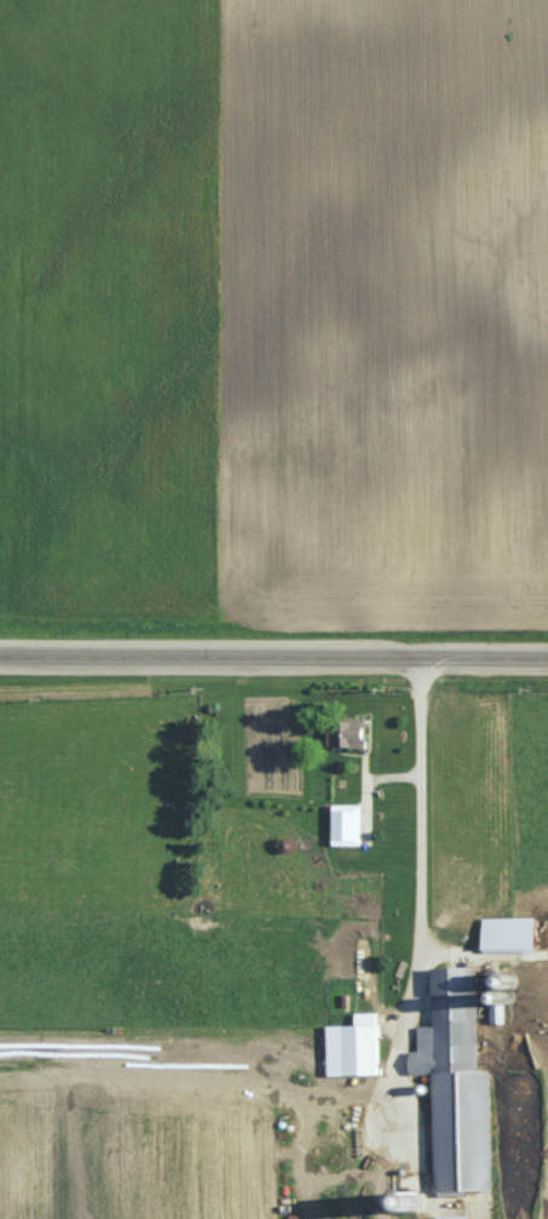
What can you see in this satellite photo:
road: (273, 656)
building: (348, 733)
building: (344, 785)
road: (425, 831)
building: (350, 842)
building: (455, 1017)
building: (357, 1048)

